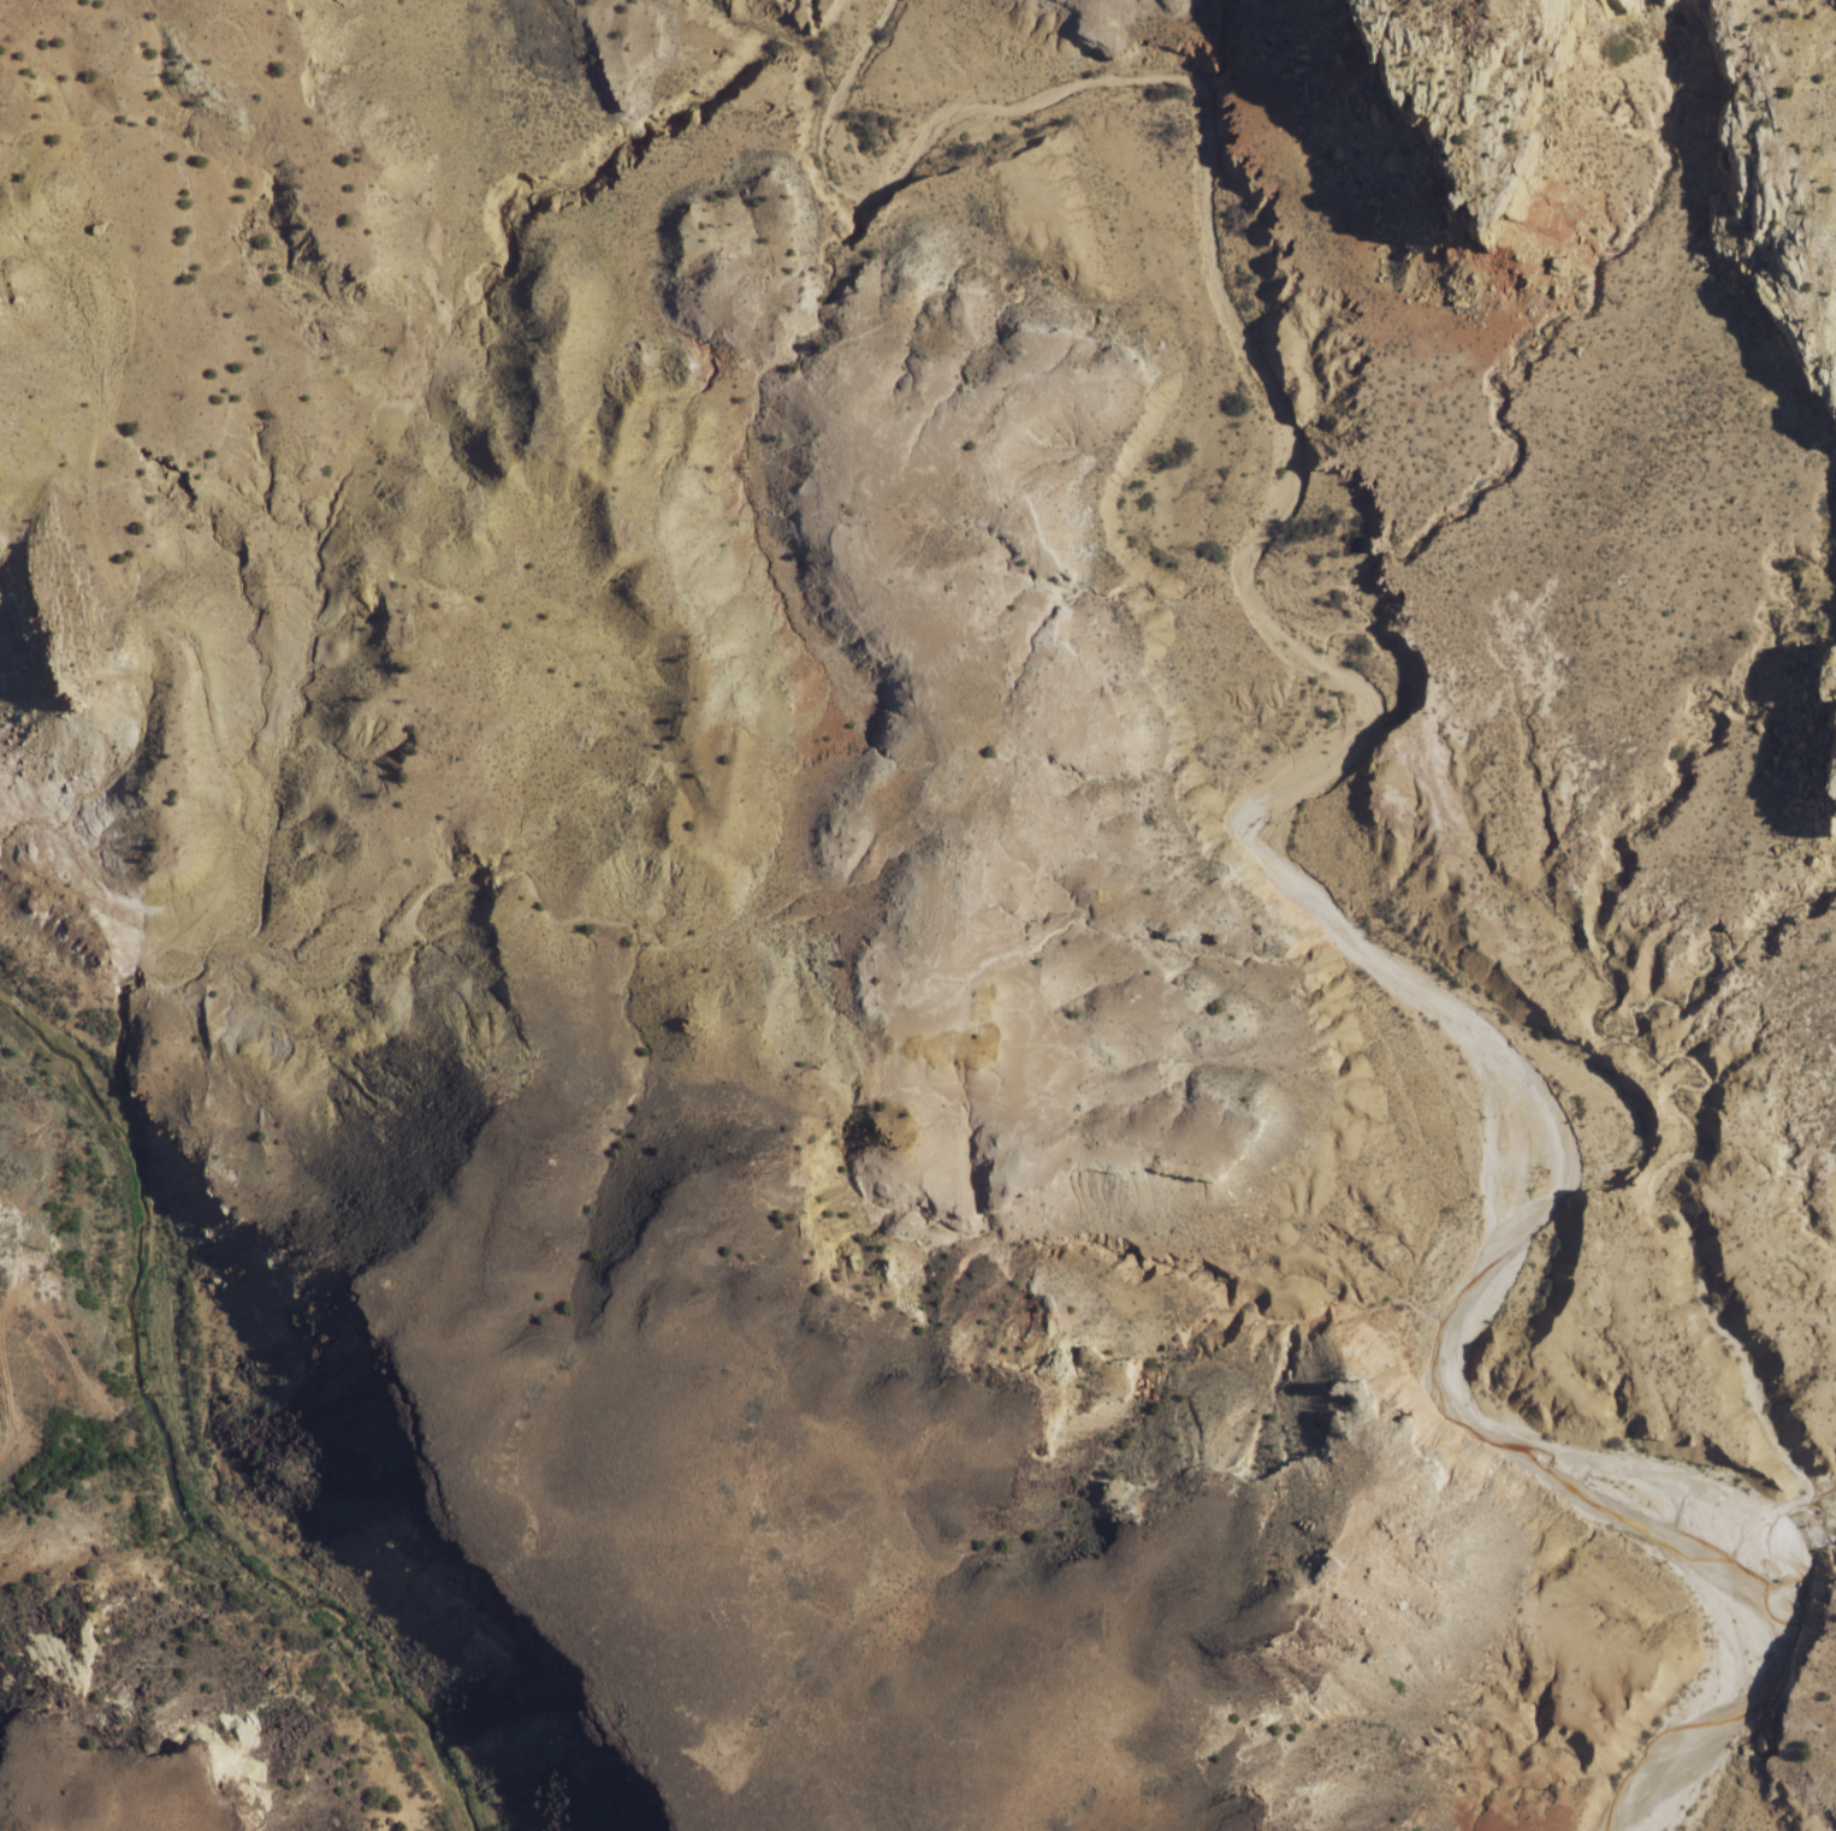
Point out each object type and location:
road: (6, 1370)
river: (309, 1617)

